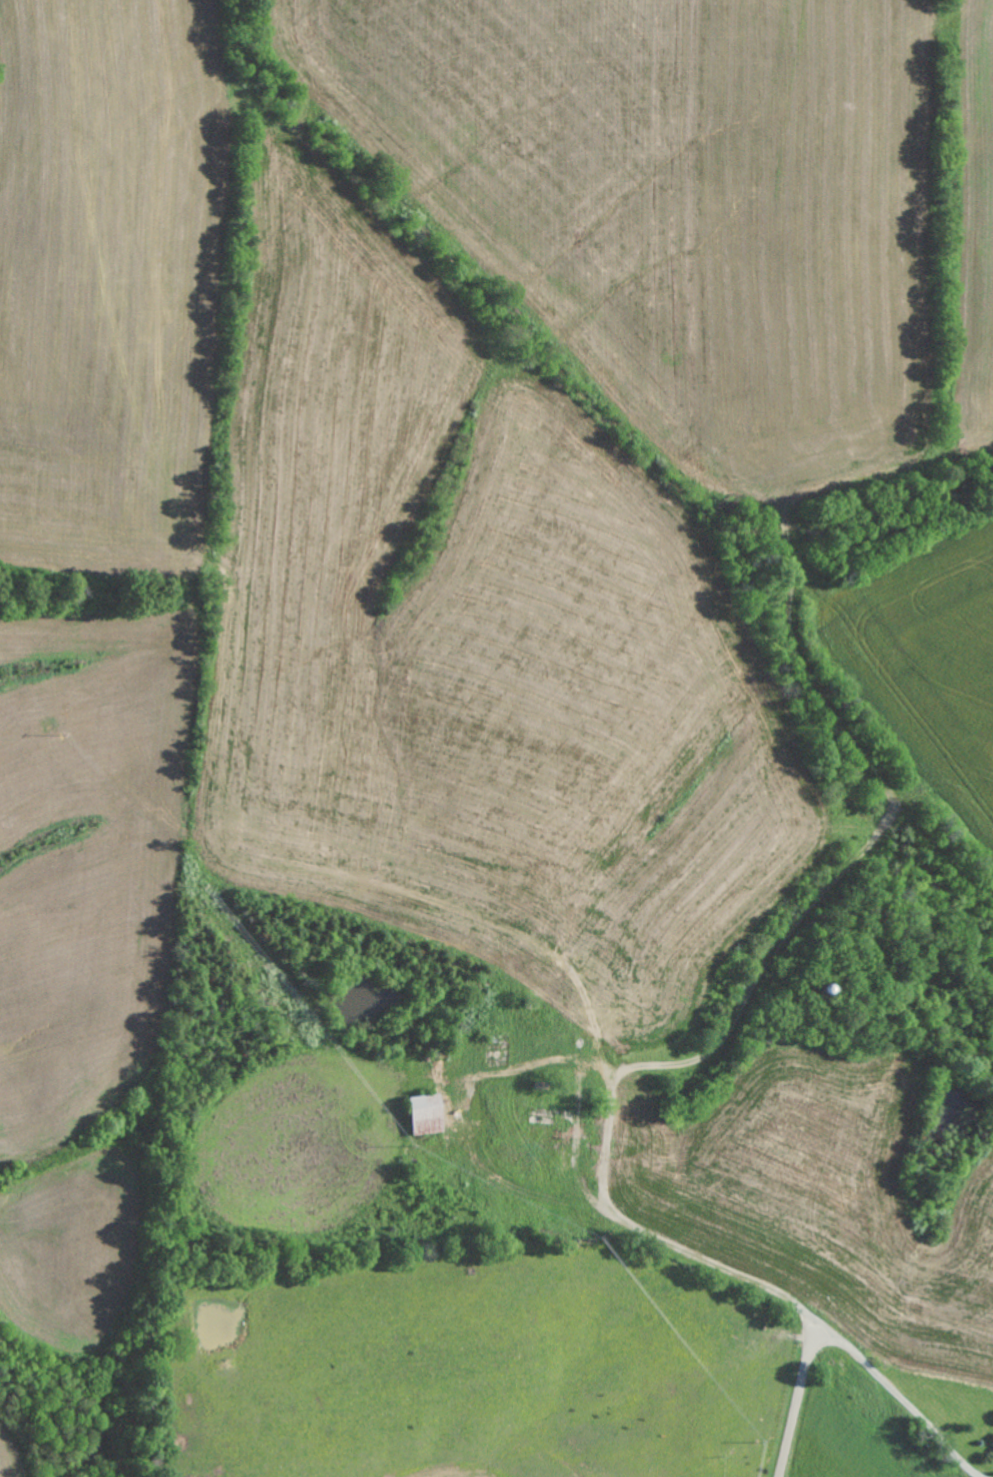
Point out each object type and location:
building: (431, 1114)
road: (799, 1311)
road: (798, 1409)

